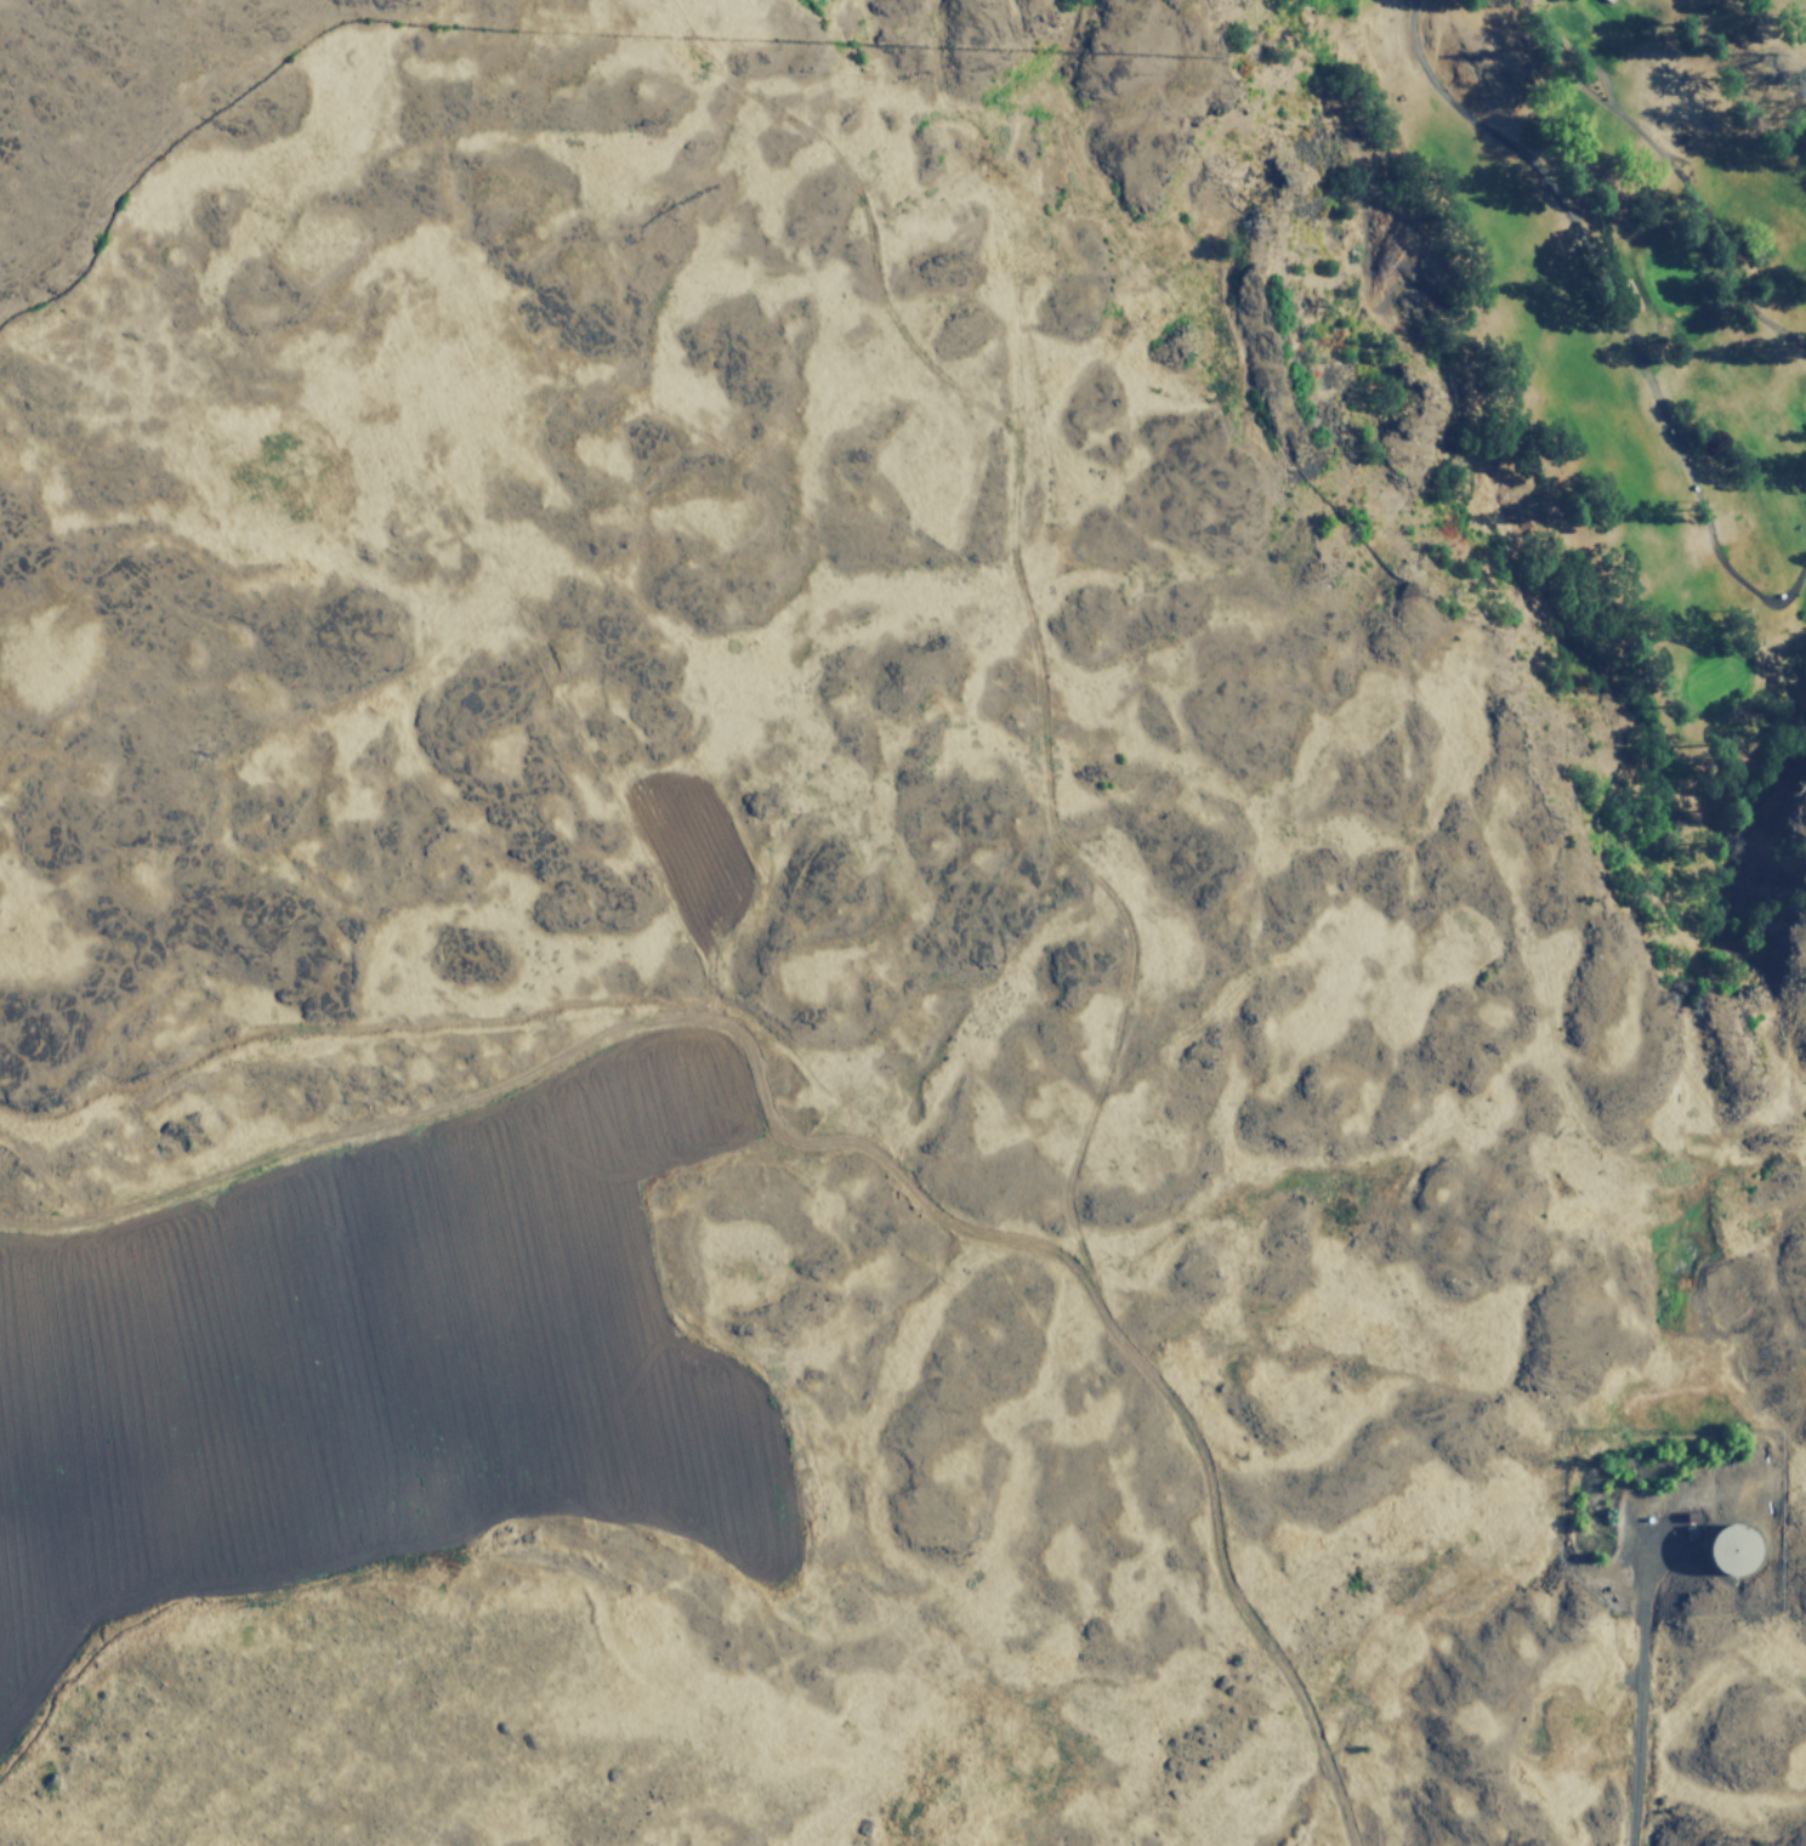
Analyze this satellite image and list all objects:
park: (1626, 319)
building: (1732, 1547)

